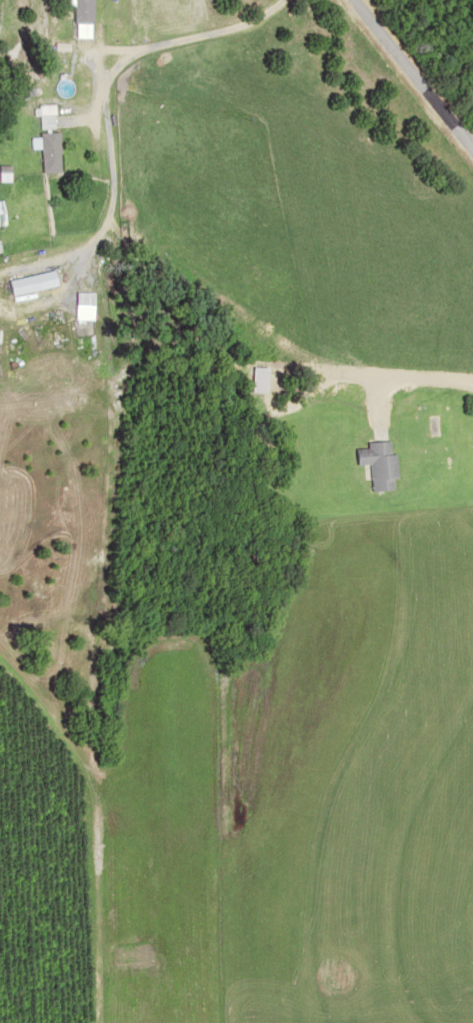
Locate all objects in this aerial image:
building: (76, 10)
road: (398, 102)
building: (39, 115)
building: (41, 151)
road: (171, 304)
building: (254, 378)
building: (374, 463)

